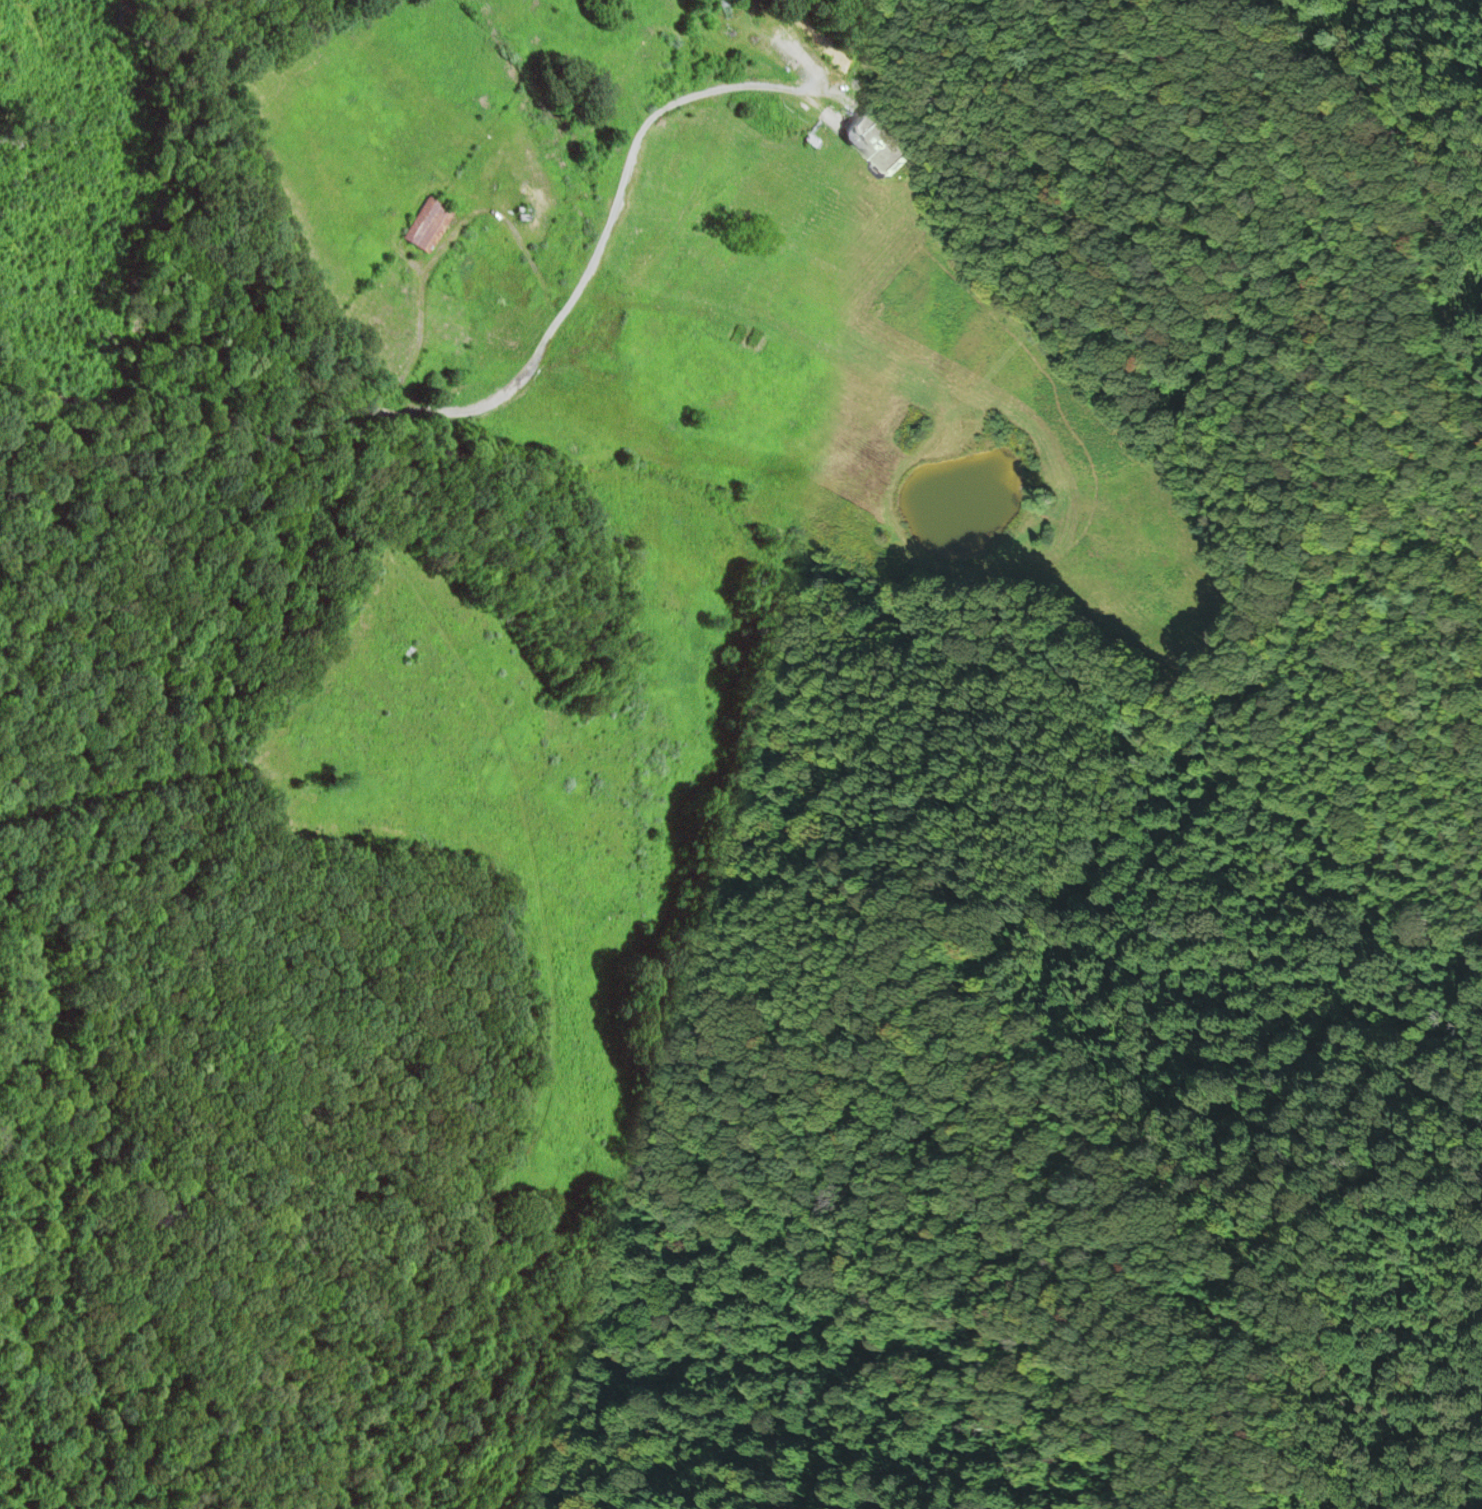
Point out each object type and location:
building: (872, 137)
building: (426, 223)
road: (609, 232)
road: (270, 464)
road: (516, 1503)

